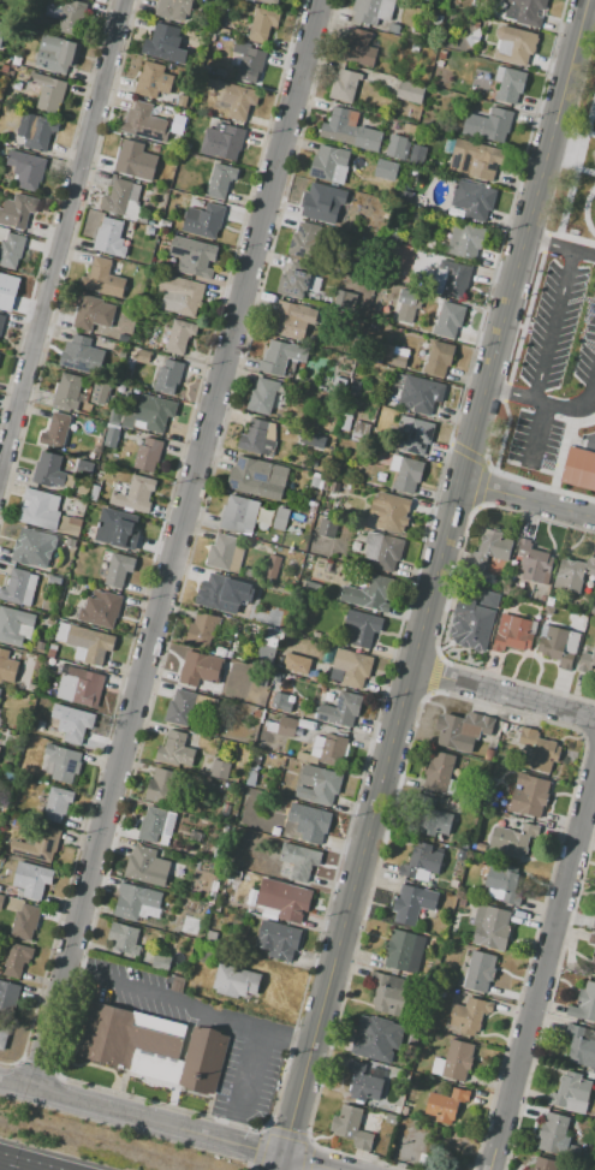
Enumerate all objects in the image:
building: (268, 1)
building: (474, 4)
building: (173, 10)
building: (371, 11)
building: (524, 11)
building: (66, 14)
building: (436, 19)
building: (261, 24)
road: (577, 24)
road: (583, 24)
building: (393, 28)
building: (2, 31)
building: (418, 36)
road: (585, 36)
building: (472, 37)
building: (513, 44)
building: (155, 46)
building: (413, 47)
building: (357, 48)
building: (55, 54)
building: (441, 54)
building: (6, 58)
building: (248, 61)
building: (439, 63)
building: (4, 69)
building: (206, 69)
building: (11, 71)
building: (221, 75)
building: (153, 79)
building: (480, 81)
building: (508, 84)
building: (344, 85)
building: (48, 91)
building: (410, 91)
building: (232, 97)
building: (182, 101)
building: (144, 123)
building: (178, 124)
building: (488, 124)
building: (340, 126)
building: (407, 127)
building: (40, 133)
building: (367, 139)
building: (221, 141)
building: (184, 147)
building: (395, 147)
building: (155, 149)
building: (129, 158)
building: (474, 159)
building: (417, 160)
building: (327, 161)
building: (25, 168)
building: (385, 168)
building: (220, 180)
building: (119, 196)
building: (472, 200)
building: (315, 202)
building: (17, 210)
building: (203, 220)
building: (150, 222)
building: (350, 226)
building: (149, 231)
road: (61, 232)
building: (109, 237)
building: (302, 239)
building: (465, 240)
building: (165, 243)
building: (430, 244)
building: (10, 248)
road: (560, 248)
building: (438, 249)
building: (192, 256)
building: (403, 262)
building: (422, 262)
building: (454, 278)
building: (102, 279)
building: (297, 284)
building: (6, 286)
building: (180, 296)
building: (345, 298)
building: (406, 304)
building: (90, 313)
building: (292, 319)
building: (590, 319)
building: (448, 320)
building: (1, 321)
building: (180, 335)
building: (387, 351)
building: (133, 352)
building: (81, 355)
building: (143, 356)
building: (281, 357)
building: (438, 358)
building: (398, 362)
building: (168, 376)
building: (338, 385)
building: (353, 388)
building: (66, 392)
building: (416, 393)
building: (99, 394)
building: (264, 396)
road: (543, 402)
building: (153, 412)
fountain: (182, 414)
building: (117, 416)
building: (345, 422)
building: (55, 430)
building: (358, 430)
building: (415, 435)
building: (111, 438)
building: (258, 438)
building: (96, 441)
building: (314, 441)
building: (148, 453)
building: (91, 456)
building: (578, 467)
building: (84, 468)
building: (48, 470)
building: (405, 474)
building: (251, 477)
building: (69, 481)
building: (314, 482)
building: (115, 487)
building: (334, 487)
building: (83, 488)
building: (94, 493)
building: (135, 495)
road: (528, 499)
building: (40, 509)
building: (388, 512)
building: (239, 513)
building: (280, 518)
building: (67, 525)
building: (327, 528)
building: (126, 533)
building: (63, 538)
building: (72, 542)
road: (173, 544)
building: (32, 547)
building: (490, 548)
building: (382, 551)
building: (225, 553)
building: (534, 563)
building: (272, 566)
building: (119, 570)
building: (572, 574)
building: (54, 581)
building: (19, 587)
building: (311, 587)
building: (212, 592)
building: (369, 594)
building: (489, 600)
building: (551, 601)
road: (428, 602)
building: (540, 606)
building: (100, 610)
building: (593, 610)
building: (260, 617)
building: (470, 624)
building: (14, 625)
building: (362, 628)
building: (201, 630)
building: (513, 634)
building: (85, 642)
building: (555, 647)
building: (222, 652)
building: (264, 652)
building: (50, 653)
building: (587, 660)
building: (284, 663)
building: (7, 667)
building: (350, 667)
building: (200, 669)
building: (78, 685)
building: (31, 688)
road: (502, 694)
building: (281, 701)
building: (186, 706)
building: (290, 706)
building: (340, 709)
building: (256, 713)
building: (77, 726)
building: (281, 726)
building: (504, 726)
building: (462, 730)
building: (174, 750)
building: (326, 750)
building: (539, 750)
building: (489, 753)
building: (61, 764)
building: (220, 770)
building: (440, 772)
building: (251, 778)
building: (319, 784)
building: (159, 786)
building: (529, 796)
building: (56, 803)
building: (225, 809)
building: (430, 819)
building: (311, 822)
building: (155, 824)
building: (19, 825)
building: (274, 830)
building: (512, 841)
building: (37, 843)
building: (465, 844)
building: (218, 851)
building: (460, 854)
building: (299, 860)
building: (420, 861)
building: (145, 866)
building: (31, 880)
building: (505, 883)
building: (213, 889)
building: (1, 899)
building: (284, 899)
building: (133, 901)
building: (462, 902)
building: (412, 903)
building: (24, 922)
building: (594, 922)
building: (154, 923)
building: (492, 927)
building: (210, 934)
building: (123, 938)
building: (278, 939)
building: (591, 939)
building: (404, 951)
building: (16, 958)
building: (160, 962)
road: (540, 963)
building: (593, 963)
building: (477, 972)
road: (75, 973)
building: (236, 980)
building: (389, 994)
building: (8, 996)
building: (584, 1003)
road: (183, 1005)
building: (469, 1015)
building: (2, 1035)
road: (296, 1037)
building: (376, 1038)
building: (131, 1041)
building: (579, 1047)
building: (202, 1059)
building: (454, 1061)
road: (245, 1073)
building: (362, 1082)
road: (14, 1083)
building: (571, 1093)
building: (446, 1104)
building: (395, 1110)
building: (405, 1111)
building: (391, 1118)
road: (155, 1122)
building: (351, 1127)
road: (231, 1130)
building: (552, 1133)
traffic signals: (282, 1158)
building: (422, 1159)
road: (23, 1163)
road: (280, 1164)
road: (304, 1164)
building: (543, 1164)
building: (560, 1169)

